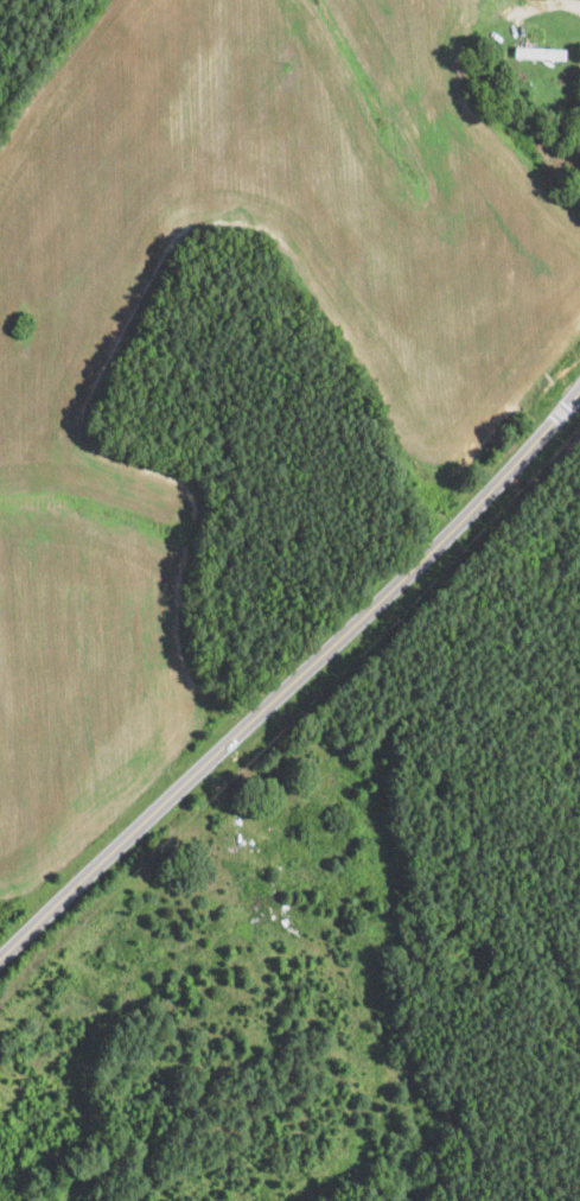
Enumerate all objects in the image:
road: (571, 5)
building: (540, 53)
building: (520, 93)
building: (579, 104)
road: (297, 681)
building: (0, 1178)
building: (1, 1188)

